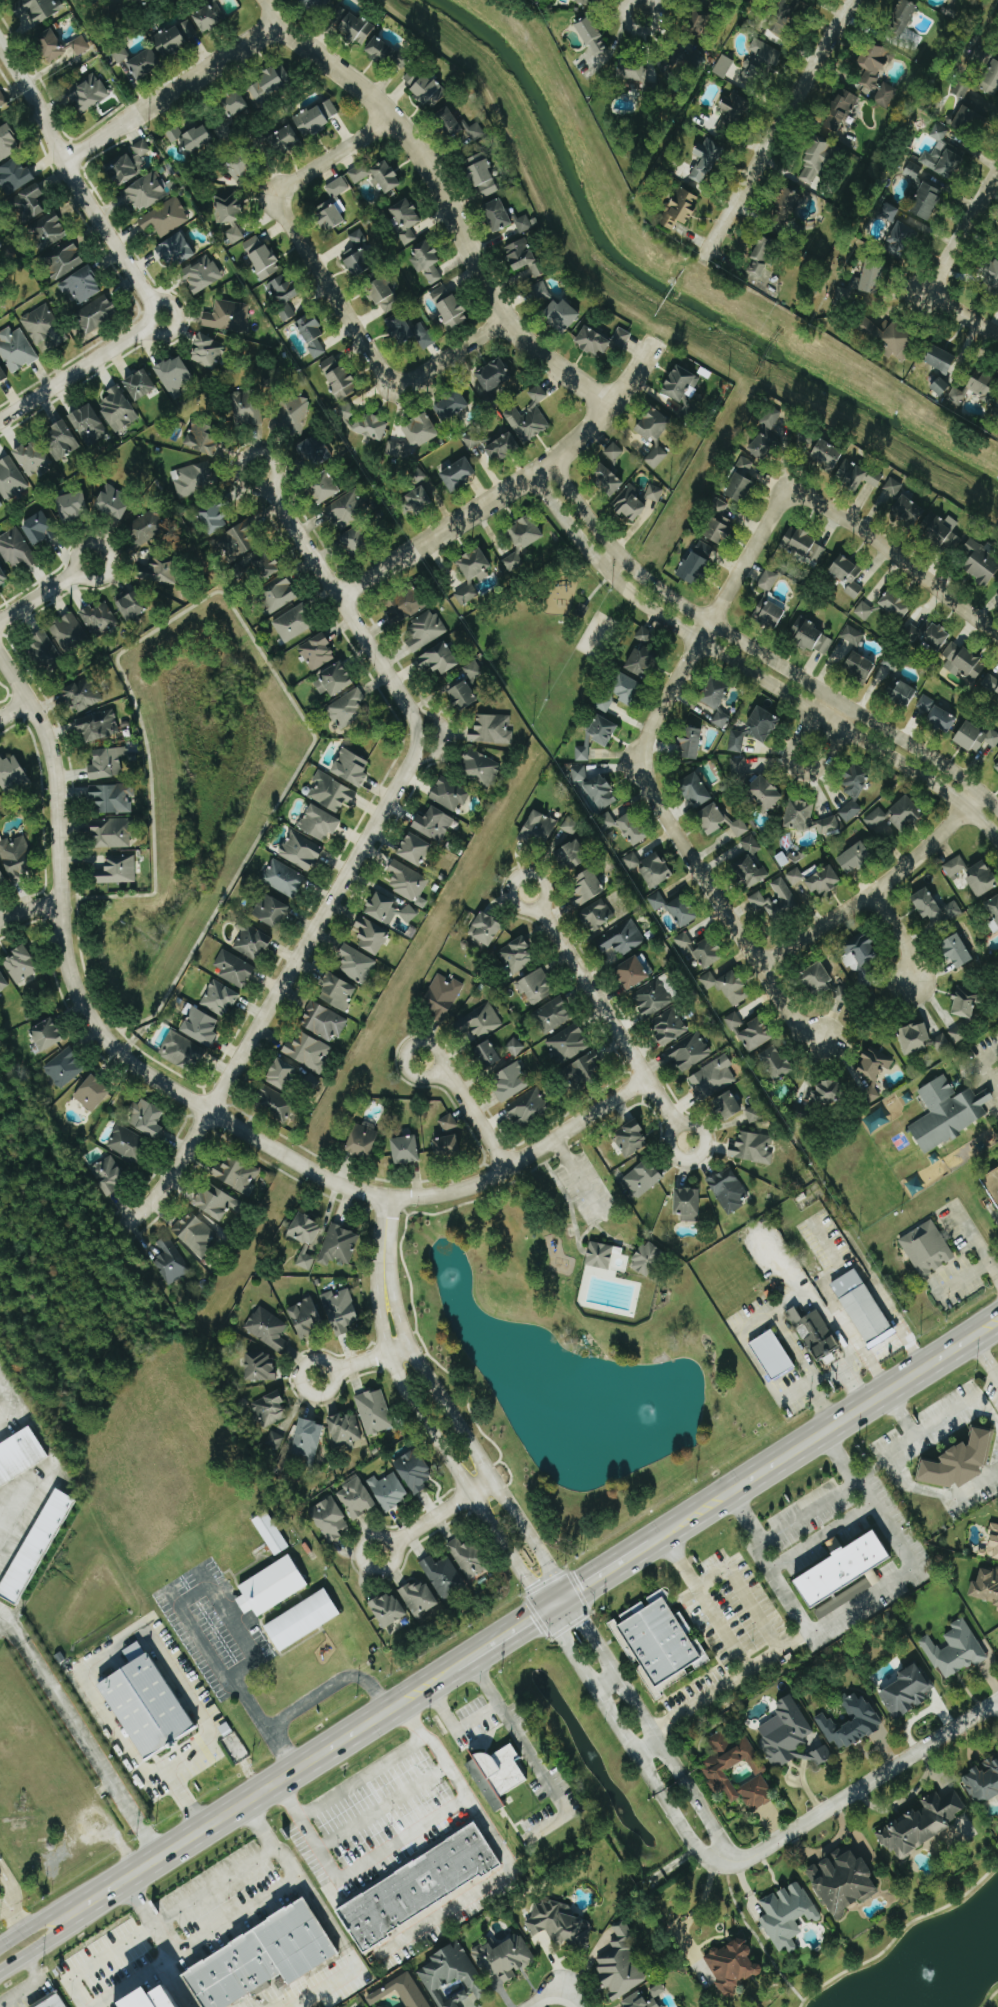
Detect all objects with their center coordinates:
building: (218, 0)
building: (137, 1)
building: (590, 2)
building: (313, 4)
building: (36, 10)
building: (904, 16)
building: (210, 17)
building: (784, 21)
building: (701, 22)
building: (357, 29)
building: (189, 30)
road: (638, 31)
building: (170, 40)
building: (594, 45)
building: (60, 46)
building: (381, 51)
building: (121, 54)
building: (402, 62)
building: (144, 64)
building: (761, 64)
building: (873, 64)
building: (724, 66)
building: (635, 74)
building: (991, 80)
building: (272, 83)
building: (425, 87)
building: (960, 89)
road: (169, 92)
building: (90, 93)
building: (886, 95)
building: (2, 100)
building: (235, 105)
building: (840, 110)
building: (734, 112)
building: (971, 115)
building: (317, 117)
building: (461, 125)
road: (776, 130)
building: (175, 135)
building: (197, 138)
building: (286, 138)
building: (7, 144)
building: (942, 155)
building: (706, 161)
building: (816, 162)
building: (129, 164)
building: (236, 171)
building: (913, 171)
building: (359, 174)
building: (483, 175)
building: (386, 176)
building: (14, 177)
road: (73, 182)
building: (144, 193)
road: (286, 197)
road: (445, 197)
building: (928, 202)
building: (30, 203)
building: (786, 205)
building: (333, 206)
building: (680, 208)
building: (890, 212)
building: (231, 214)
building: (498, 215)
building: (165, 218)
building: (406, 220)
building: (524, 224)
building: (48, 231)
road: (962, 231)
building: (903, 238)
building: (176, 251)
building: (358, 255)
building: (261, 257)
building: (524, 257)
building: (762, 257)
building: (63, 259)
building: (427, 261)
building: (202, 274)
building: (993, 275)
building: (872, 277)
building: (80, 287)
building: (541, 293)
building: (283, 295)
building: (385, 296)
road: (168, 300)
building: (449, 306)
building: (95, 314)
building: (564, 314)
road: (962, 315)
building: (228, 316)
building: (43, 326)
building: (409, 330)
road: (161, 333)
building: (312, 334)
building: (889, 337)
building: (602, 341)
building: (16, 350)
building: (208, 351)
building: (941, 359)
road: (77, 370)
building: (494, 375)
building: (175, 376)
building: (338, 377)
road: (415, 377)
building: (141, 385)
building: (682, 386)
building: (941, 387)
building: (978, 390)
building: (451, 406)
building: (119, 409)
building: (247, 409)
building: (348, 412)
building: (290, 416)
building: (530, 417)
building: (88, 425)
building: (655, 426)
building: (371, 427)
building: (421, 432)
building: (767, 435)
building: (204, 440)
building: (61, 441)
building: (503, 448)
building: (396, 450)
building: (315, 451)
building: (614, 452)
building: (827, 455)
road: (244, 456)
building: (656, 457)
building: (33, 460)
building: (745, 467)
building: (858, 474)
building: (458, 475)
building: (419, 476)
building: (194, 478)
building: (11, 480)
building: (608, 480)
road: (510, 484)
building: (893, 487)
building: (325, 489)
building: (740, 489)
building: (419, 500)
building: (637, 501)
building: (114, 502)
building: (1, 505)
building: (73, 506)
building: (909, 509)
building: (347, 510)
building: (214, 518)
building: (719, 523)
building: (147, 528)
building: (39, 530)
building: (944, 530)
building: (522, 540)
building: (239, 541)
building: (356, 541)
building: (804, 546)
building: (16, 549)
road: (105, 553)
road: (895, 557)
building: (695, 564)
building: (981, 564)
building: (264, 567)
building: (165, 571)
building: (849, 574)
building: (472, 575)
building: (3, 577)
building: (769, 580)
building: (279, 593)
road: (38, 597)
building: (897, 603)
building: (408, 605)
building: (132, 606)
road: (345, 610)
building: (771, 610)
building: (864, 610)
building: (99, 619)
building: (293, 623)
building: (424, 631)
building: (69, 634)
building: (645, 634)
building: (930, 634)
building: (853, 635)
building: (812, 636)
park: (548, 643)
building: (45, 650)
building: (317, 652)
road: (756, 652)
building: (440, 659)
building: (642, 660)
building: (964, 661)
building: (860, 665)
building: (885, 669)
building: (473, 671)
road: (749, 672)
road: (13, 679)
building: (334, 681)
building: (991, 682)
building: (626, 688)
building: (905, 691)
building: (715, 692)
building: (83, 694)
building: (464, 694)
building: (605, 703)
building: (926, 704)
road: (13, 708)
building: (347, 709)
road: (431, 717)
building: (943, 717)
building: (721, 719)
building: (99, 726)
building: (755, 728)
building: (492, 729)
building: (603, 729)
building: (977, 738)
building: (691, 743)
building: (583, 753)
road: (433, 754)
building: (997, 765)
building: (740, 766)
building: (351, 767)
building: (482, 768)
building: (11, 773)
building: (580, 773)
road: (795, 773)
road: (647, 776)
building: (599, 789)
building: (696, 789)
building: (332, 792)
building: (765, 792)
building: (450, 794)
building: (113, 798)
building: (906, 813)
building: (800, 814)
building: (712, 817)
building: (607, 820)
building: (320, 822)
building: (434, 823)
building: (879, 824)
building: (571, 825)
building: (828, 826)
building: (740, 827)
building: (539, 828)
building: (633, 828)
building: (112, 833)
building: (752, 844)
building: (415, 849)
building: (301, 851)
building: (573, 854)
building: (856, 857)
building: (16, 858)
building: (634, 862)
building: (955, 866)
building: (748, 868)
building: (657, 869)
building: (118, 870)
road: (518, 875)
building: (795, 876)
building: (983, 878)
building: (284, 879)
building: (2, 880)
building: (825, 880)
building: (407, 881)
building: (588, 885)
road: (876, 889)
building: (785, 893)
building: (657, 900)
building: (618, 903)
building: (994, 905)
building: (935, 907)
road: (29, 909)
building: (389, 909)
building: (271, 910)
building: (684, 910)
building: (598, 915)
building: (486, 928)
building: (371, 934)
building: (624, 938)
road: (901, 938)
building: (252, 943)
building: (864, 949)
building: (700, 950)
building: (958, 950)
building: (517, 954)
building: (356, 963)
building: (21, 964)
building: (234, 969)
building: (633, 972)
building: (3, 981)
building: (824, 983)
building: (536, 986)
building: (729, 986)
road: (278, 989)
building: (338, 991)
building: (442, 995)
building: (220, 998)
building: (653, 998)
building: (966, 1003)
building: (553, 1015)
road: (607, 1016)
building: (324, 1021)
building: (480, 1021)
building: (201, 1026)
building: (669, 1026)
building: (751, 1032)
building: (959, 1033)
building: (47, 1034)
building: (915, 1037)
building: (942, 1041)
building: (568, 1043)
building: (515, 1046)
road: (405, 1049)
building: (182, 1051)
building: (308, 1051)
building: (689, 1051)
building: (489, 1054)
building: (777, 1062)
building: (64, 1067)
road: (982, 1069)
building: (873, 1070)
building: (584, 1071)
building: (282, 1073)
building: (712, 1078)
building: (511, 1081)
building: (93, 1092)
building: (828, 1092)
building: (275, 1103)
building: (728, 1105)
building: (527, 1106)
building: (948, 1112)
road: (210, 1113)
building: (754, 1114)
road: (473, 1117)
building: (146, 1118)
building: (449, 1122)
road: (676, 1126)
building: (632, 1138)
building: (363, 1139)
building: (127, 1143)
building: (447, 1146)
building: (752, 1148)
building: (405, 1149)
building: (237, 1173)
road: (576, 1175)
building: (108, 1176)
building: (643, 1178)
building: (992, 1182)
building: (728, 1190)
building: (216, 1202)
building: (688, 1204)
building: (306, 1229)
building: (194, 1233)
park: (572, 1236)
road: (385, 1238)
building: (339, 1245)
building: (927, 1248)
building: (600, 1255)
building: (647, 1259)
building: (170, 1262)
road: (976, 1274)
fountain: (451, 1278)
road: (816, 1300)
building: (862, 1306)
road: (890, 1308)
building: (341, 1311)
building: (306, 1317)
building: (268, 1328)
road: (985, 1328)
building: (815, 1333)
road: (796, 1351)
building: (773, 1355)
road: (984, 1359)
road: (362, 1360)
road: (852, 1361)
building: (261, 1367)
road: (877, 1372)
road: (997, 1380)
road: (997, 1381)
road: (857, 1383)
road: (7, 1399)
building: (270, 1409)
building: (0, 1410)
fountain: (645, 1411)
building: (374, 1412)
road: (849, 1415)
road: (901, 1415)
road: (950, 1416)
building: (345, 1430)
building: (275, 1440)
building: (307, 1441)
road: (469, 1442)
road: (446, 1451)
building: (21, 1459)
building: (959, 1462)
road: (873, 1467)
building: (414, 1471)
building: (389, 1491)
road: (940, 1494)
building: (356, 1499)
road: (805, 1513)
road: (435, 1516)
road: (695, 1516)
building: (330, 1519)
building: (271, 1533)
road: (821, 1536)
road: (656, 1541)
building: (993, 1544)
building: (37, 1547)
building: (468, 1557)
road: (767, 1563)
road: (913, 1565)
building: (844, 1574)
building: (444, 1577)
road: (597, 1578)
building: (986, 1585)
building: (272, 1587)
traffic signals: (570, 1597)
building: (420, 1599)
road: (177, 1604)
building: (389, 1610)
traffic signals: (547, 1612)
building: (997, 1612)
building: (303, 1620)
road: (515, 1632)
building: (658, 1643)
building: (956, 1650)
road: (102, 1653)
road: (752, 1666)
road: (605, 1680)
building: (907, 1692)
road: (314, 1699)
road: (698, 1700)
building: (147, 1703)
building: (852, 1723)
road: (650, 1729)
road: (81, 1733)
road: (450, 1737)
building: (790, 1737)
road: (514, 1742)
road: (645, 1746)
road: (631, 1748)
building: (738, 1771)
building: (498, 1774)
road: (287, 1780)
road: (361, 1781)
road: (867, 1782)
building: (983, 1782)
building: (922, 1825)
road: (402, 1847)
road: (234, 1875)
building: (844, 1882)
road: (8, 1887)
building: (420, 1887)
road: (473, 1893)
road: (4, 1906)
building: (788, 1915)
road: (14, 1916)
road: (688, 1919)
road: (42, 1920)
road: (338, 1938)
road: (47, 1943)
road: (119, 1947)
building: (505, 1957)
building: (263, 1958)
building: (621, 1964)
building: (734, 1966)
building: (453, 1978)
building: (401, 1992)
road: (548, 1996)
road: (570, 1997)
building: (644, 1998)
building: (154, 2000)
building: (54, 2001)
building: (383, 2006)

